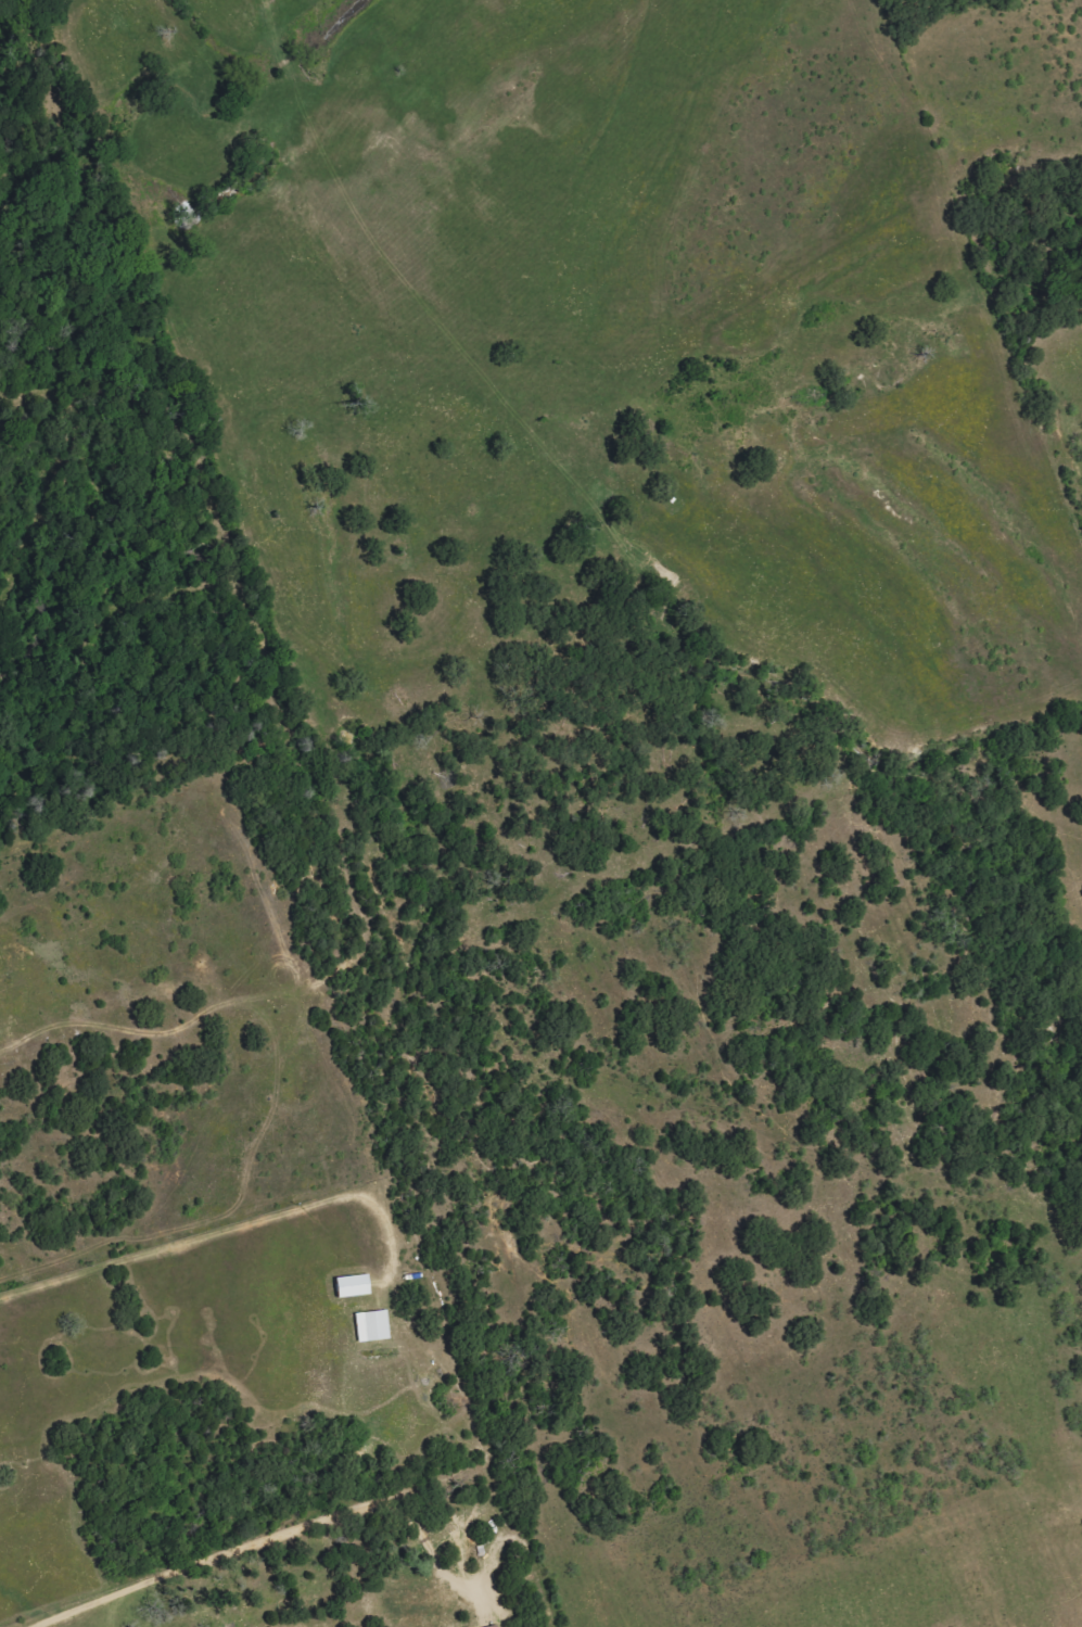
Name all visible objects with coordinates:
road: (225, 1233)
building: (355, 1285)
building: (374, 1326)
building: (497, 1626)

